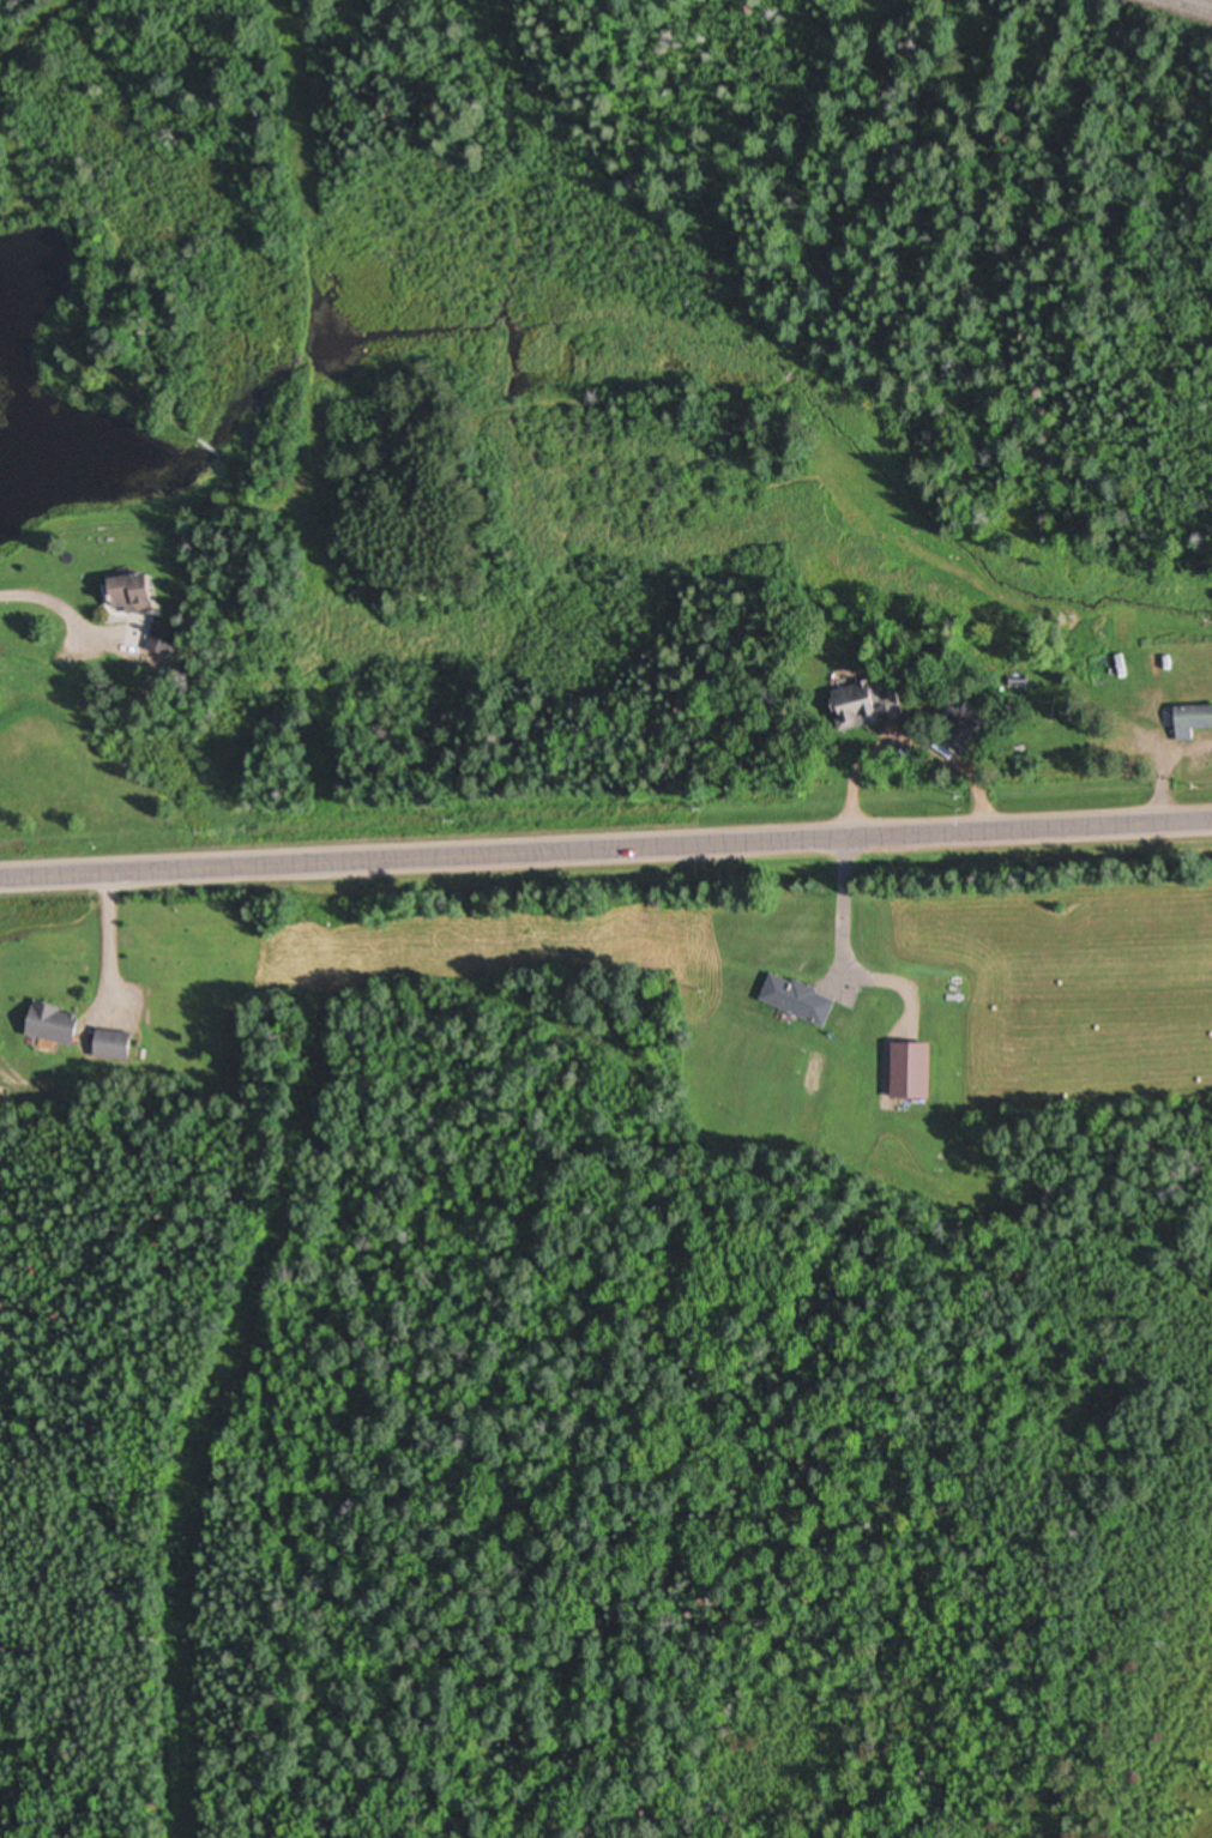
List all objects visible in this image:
railway: (1186, 7)
building: (143, 596)
building: (168, 639)
building: (876, 709)
building: (1194, 723)
road: (605, 849)
building: (794, 1000)
building: (61, 1025)
building: (117, 1045)
building: (906, 1071)

